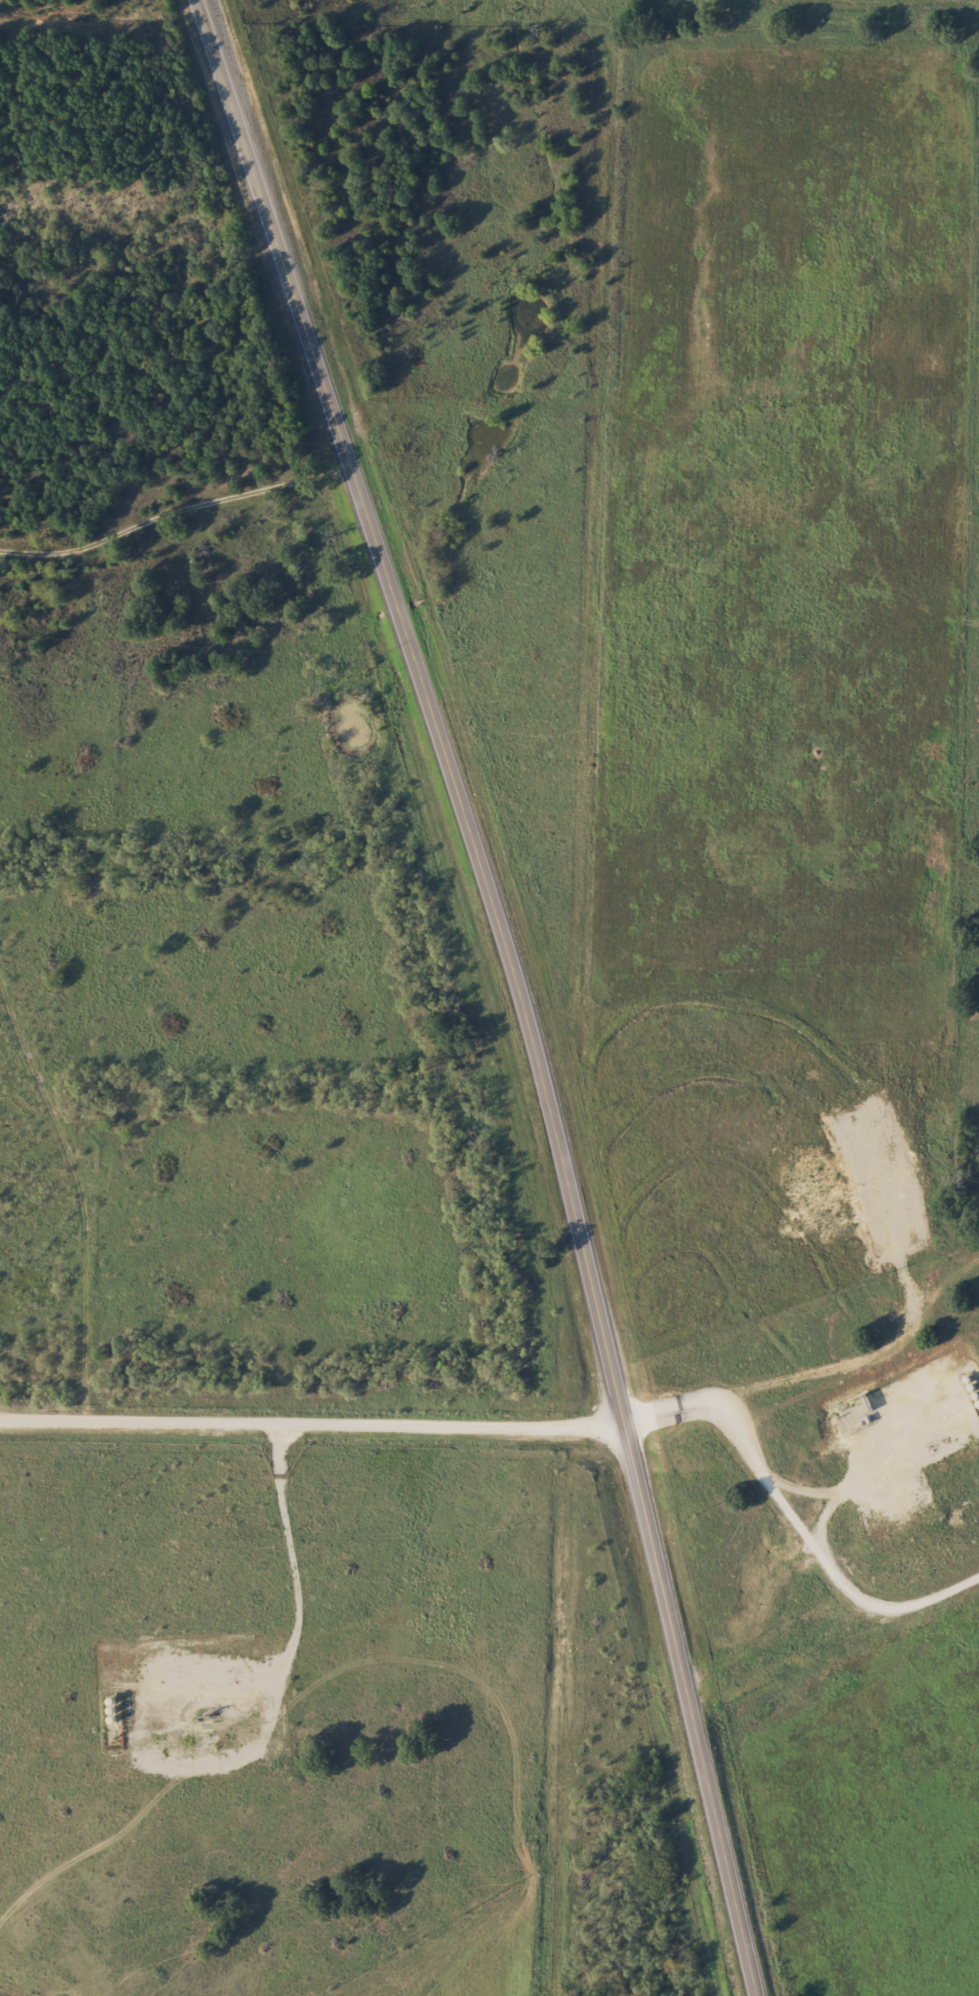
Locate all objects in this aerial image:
road: (204, 677)
road: (514, 987)
road: (313, 1421)
road: (835, 1650)

